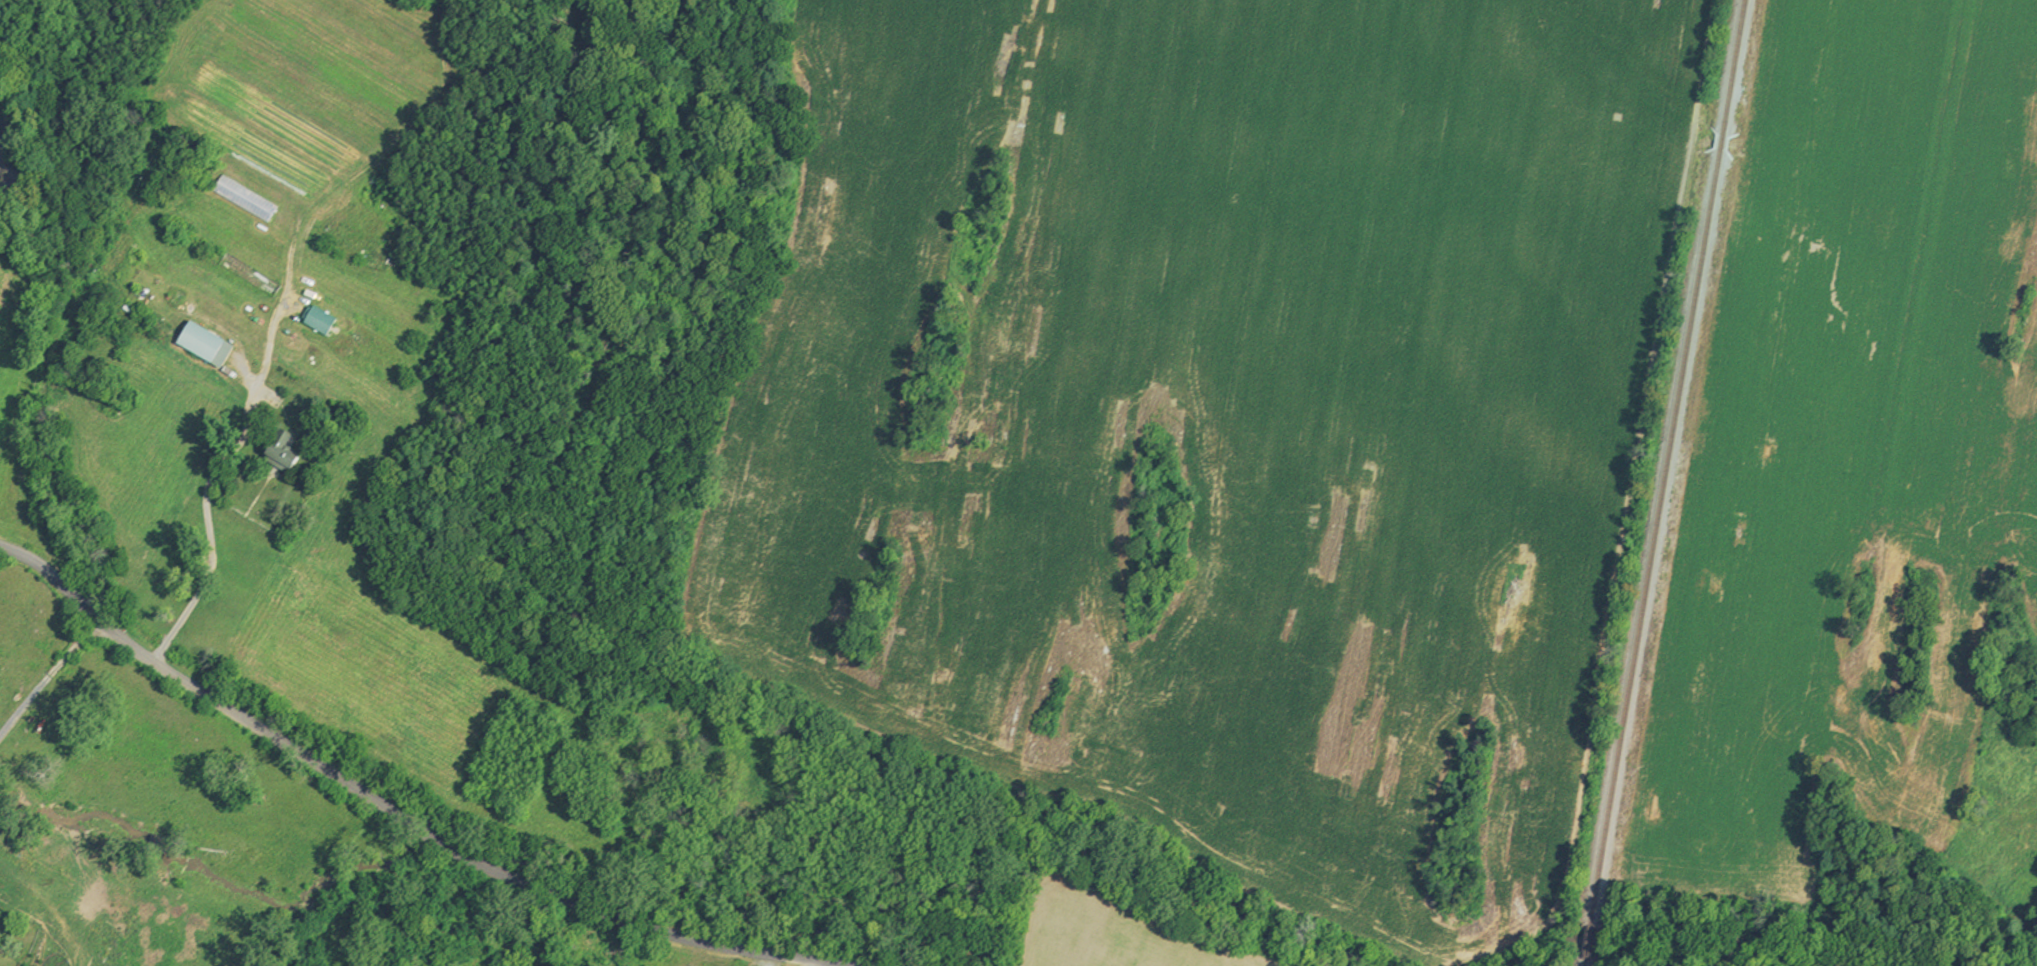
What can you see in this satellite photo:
building: (248, 199)
building: (253, 275)
building: (323, 321)
building: (209, 345)
road: (266, 373)
building: (285, 453)
railway: (1672, 463)
road: (215, 555)
road: (43, 665)
road: (394, 814)
railway: (1593, 941)
railway: (1589, 961)

